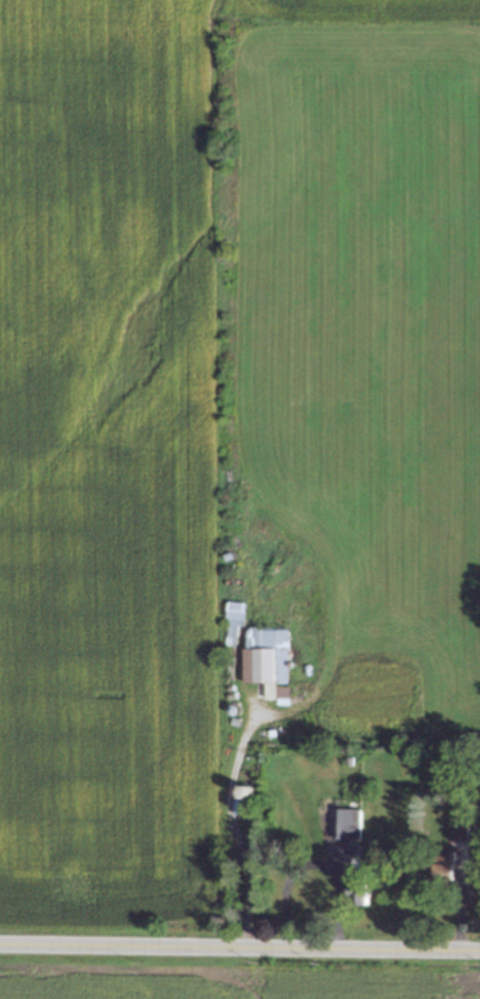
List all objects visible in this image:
crop: (115, 454)
building: (231, 618)
building: (263, 657)
building: (476, 764)
building: (240, 791)
building: (240, 804)
building: (342, 819)
road: (232, 826)
building: (453, 826)
building: (360, 863)
road: (310, 864)
building: (441, 867)
building: (357, 887)
road: (239, 945)
crop: (231, 982)

